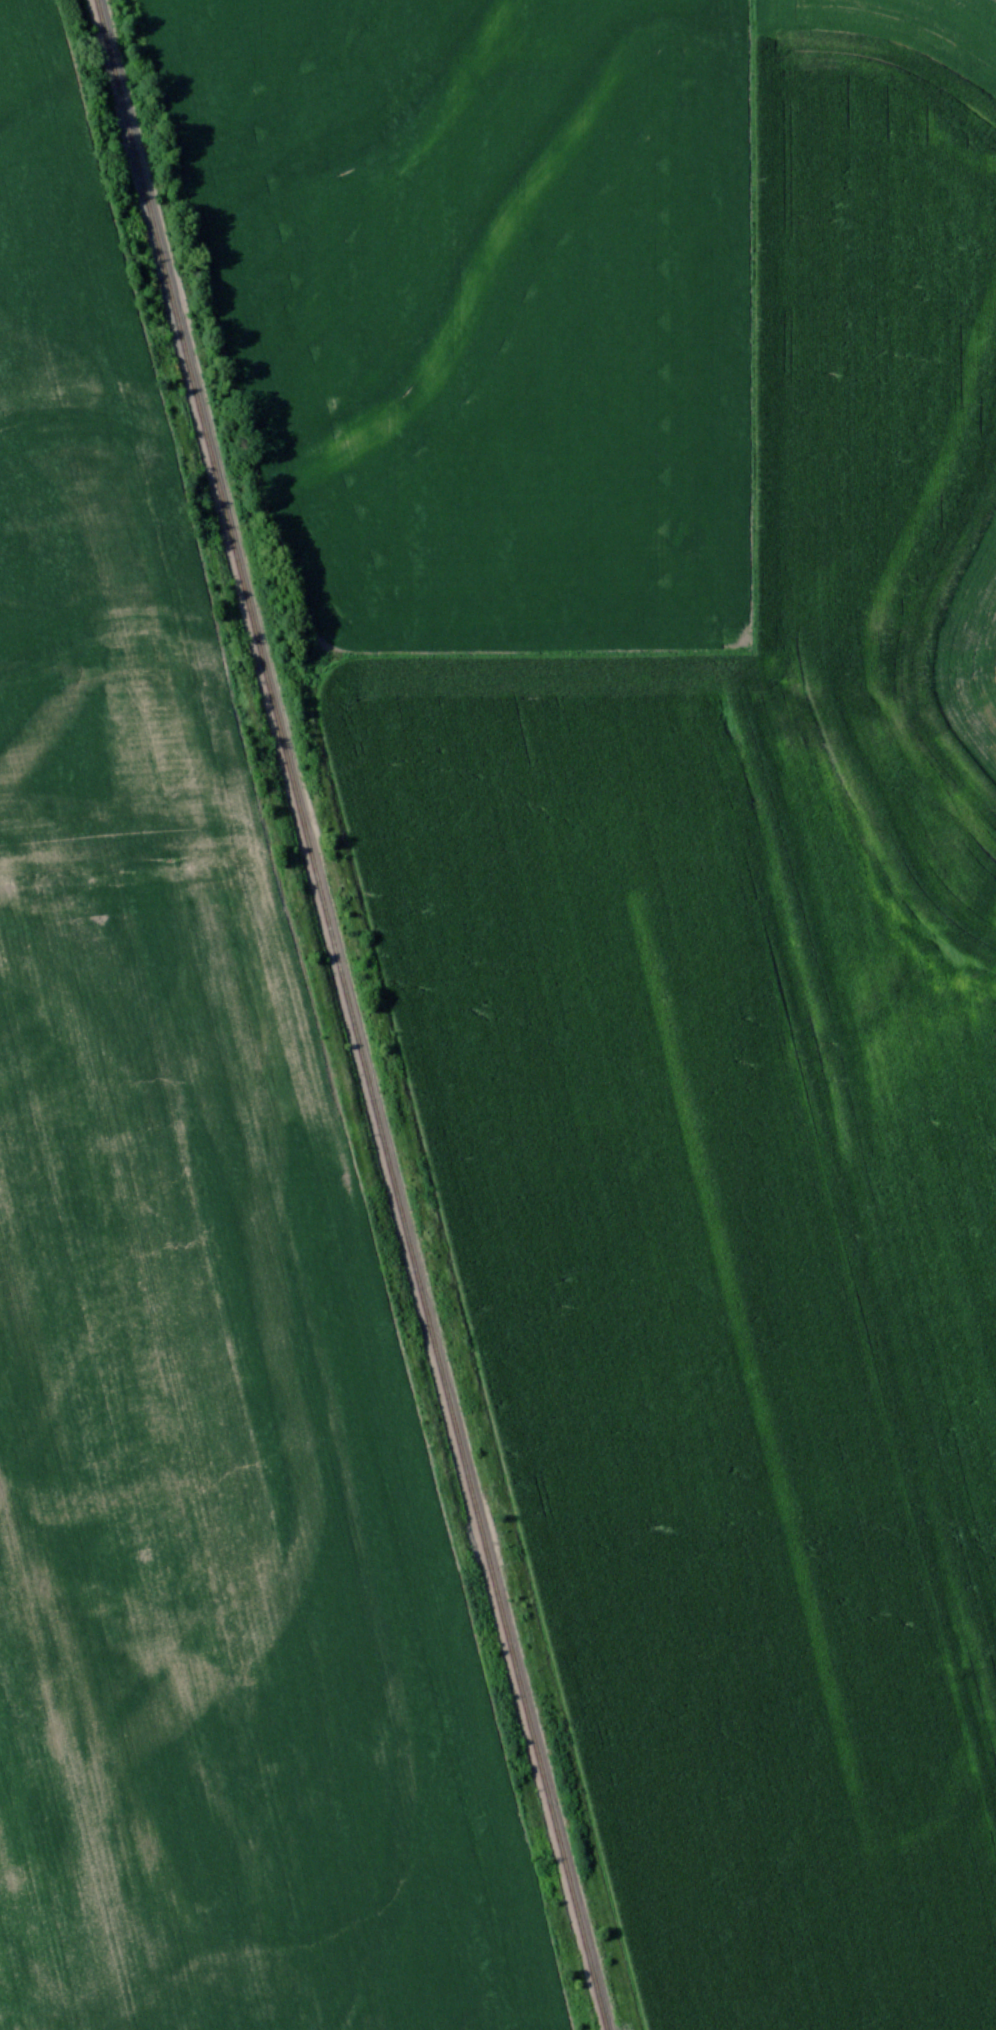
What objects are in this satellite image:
railway: (351, 1014)

